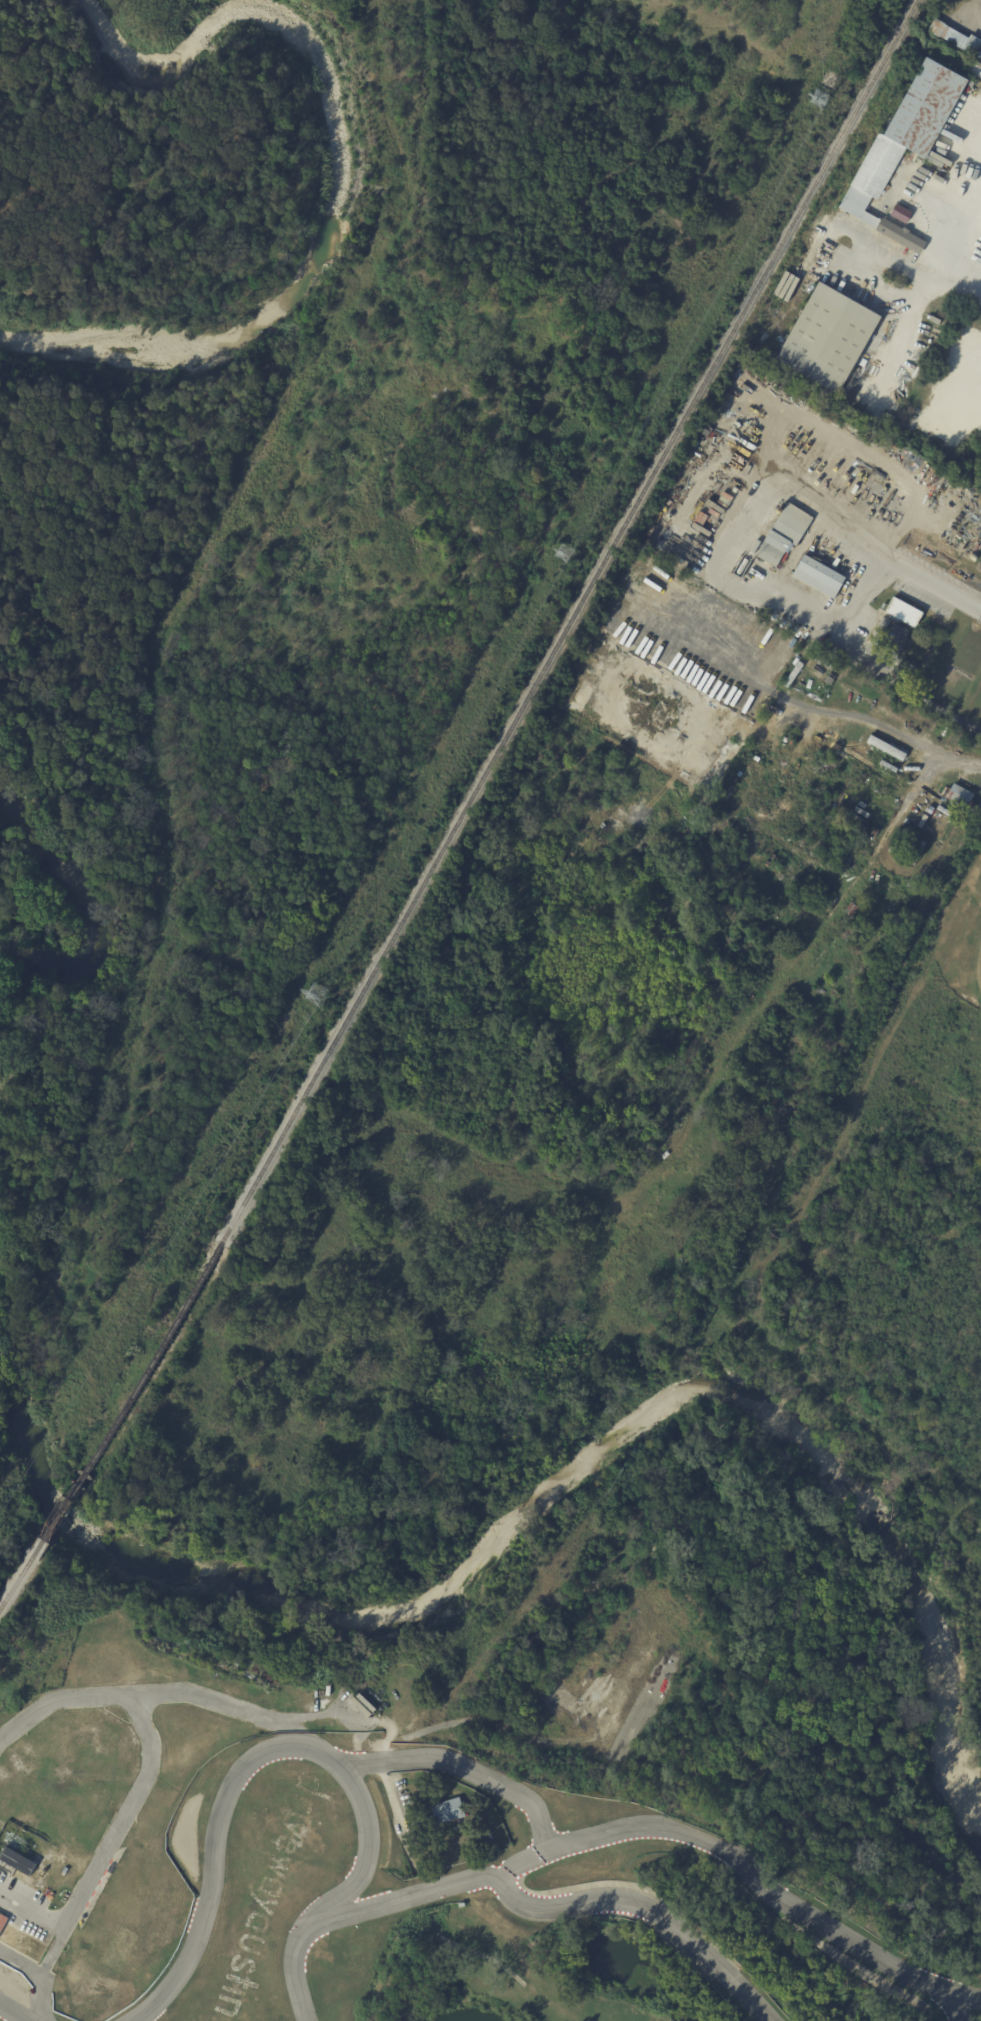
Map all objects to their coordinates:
building: (971, 42)
building: (965, 49)
building: (978, 54)
power tower: (820, 99)
building: (902, 145)
building: (903, 209)
road: (959, 230)
road: (913, 307)
building: (827, 340)
building: (842, 401)
building: (887, 420)
road: (241, 492)
building: (786, 534)
power tower: (563, 553)
road: (723, 554)
building: (820, 575)
road: (932, 590)
building: (906, 611)
building: (891, 643)
railway: (504, 739)
building: (886, 746)
building: (980, 783)
building: (961, 796)
road: (906, 803)
building: (903, 962)
power tower: (319, 995)
railway: (63, 1508)
railway: (21, 1574)
park: (494, 1692)
road: (338, 1706)
raceway: (296, 1745)
road: (393, 1799)
road: (128, 1811)
building: (443, 1811)
building: (464, 1818)
raceway: (655, 1825)
raceway: (524, 1859)
building: (18, 1861)
raceway: (533, 1906)
road: (34, 1907)
parking lot: (28, 1908)
building: (7, 1929)
road: (474, 1951)
road: (44, 1970)
road: (41, 1989)
raceway: (954, 1992)
building: (76, 2007)
raceway: (15, 2011)
park: (463, 2012)

